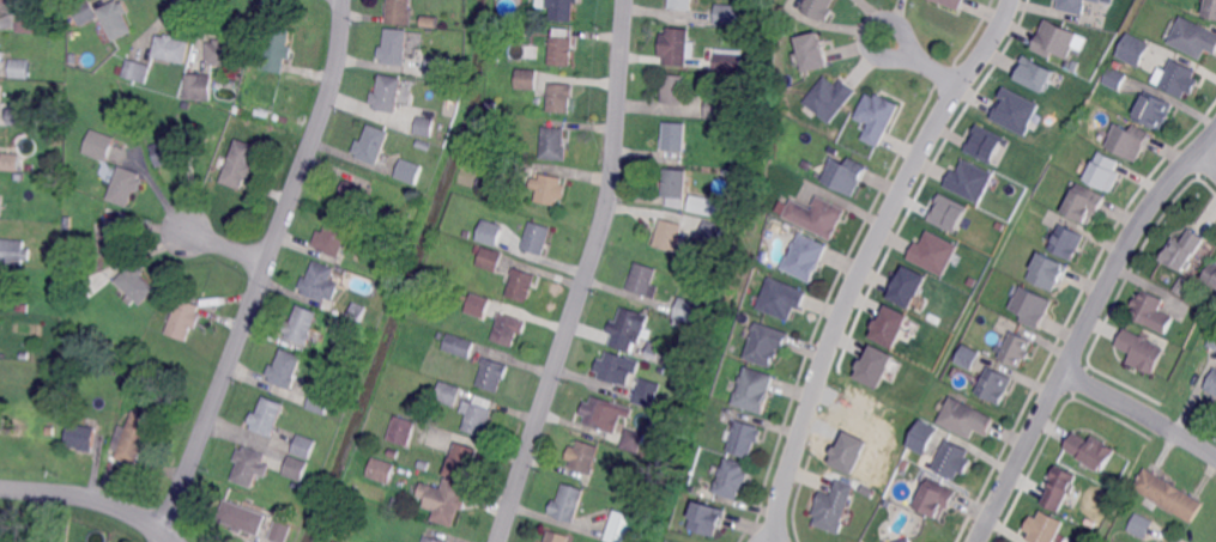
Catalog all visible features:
building: (1096, 0)
building: (1107, 0)
building: (949, 2)
building: (682, 5)
building: (1070, 5)
building: (399, 7)
building: (815, 8)
building: (1209, 8)
building: (562, 10)
building: (86, 13)
building: (726, 13)
building: (116, 19)
building: (432, 22)
building: (26, 23)
road: (896, 30)
building: (413, 36)
building: (1192, 38)
building: (1053, 39)
building: (677, 44)
building: (395, 47)
building: (171, 48)
building: (277, 49)
building: (1131, 49)
building: (811, 50)
building: (224, 51)
building: (561, 53)
building: (730, 61)
building: (438, 67)
building: (20, 68)
building: (133, 72)
building: (1034, 73)
building: (1113, 79)
building: (1178, 79)
building: (526, 81)
building: (407, 86)
building: (198, 87)
building: (674, 89)
building: (386, 95)
building: (448, 95)
building: (828, 96)
building: (562, 97)
building: (490, 104)
building: (716, 108)
building: (1014, 110)
building: (1153, 110)
building: (20, 115)
building: (875, 117)
building: (425, 126)
building: (736, 134)
building: (674, 136)
building: (1126, 141)
building: (985, 142)
building: (555, 144)
building: (99, 145)
building: (373, 145)
building: (424, 145)
building: (169, 152)
road: (1205, 159)
building: (11, 162)
building: (238, 164)
building: (1101, 171)
building: (409, 172)
building: (842, 173)
building: (969, 179)
building: (676, 183)
building: (482, 184)
building: (125, 185)
building: (547, 189)
building: (351, 197)
building: (703, 203)
building: (1082, 203)
building: (731, 212)
building: (946, 212)
building: (815, 217)
building: (492, 232)
building: (710, 232)
building: (466, 233)
building: (670, 235)
building: (334, 236)
building: (536, 238)
building: (114, 239)
building: (1065, 242)
road: (226, 246)
building: (1181, 250)
building: (13, 251)
building: (932, 251)
building: (491, 258)
building: (801, 258)
road: (865, 258)
road: (261, 273)
building: (1046, 273)
building: (1210, 275)
road: (586, 276)
building: (319, 280)
building: (642, 280)
building: (137, 284)
building: (522, 284)
building: (907, 286)
building: (1181, 286)
building: (781, 297)
building: (477, 304)
building: (1029, 307)
building: (20, 309)
building: (686, 311)
building: (1150, 311)
building: (356, 313)
building: (184, 318)
building: (302, 324)
building: (889, 324)
building: (629, 327)
building: (508, 328)
road: (1083, 328)
building: (1212, 339)
building: (763, 345)
building: (459, 346)
building: (1014, 351)
building: (1139, 351)
building: (654, 352)
building: (964, 357)
building: (875, 365)
building: (613, 367)
building: (286, 369)
building: (321, 369)
building: (494, 373)
building: (992, 385)
building: (1212, 385)
building: (133, 386)
building: (751, 390)
building: (449, 392)
building: (428, 395)
building: (648, 397)
building: (46, 402)
building: (320, 403)
building: (597, 414)
building: (268, 416)
building: (476, 419)
building: (962, 419)
road: (1138, 419)
building: (403, 430)
building: (81, 437)
building: (134, 437)
building: (919, 438)
building: (742, 439)
building: (633, 440)
building: (303, 447)
building: (1090, 451)
building: (585, 457)
building: (950, 459)
building: (464, 462)
building: (424, 464)
building: (903, 464)
building: (249, 467)
building: (296, 469)
building: (380, 471)
building: (728, 479)
building: (1100, 481)
building: (297, 485)
building: (1057, 488)
building: (889, 494)
building: (1169, 494)
road: (92, 498)
building: (932, 499)
building: (447, 500)
building: (569, 503)
building: (394, 504)
building: (830, 506)
building: (243, 517)
building: (702, 518)
building: (1089, 523)
building: (1141, 526)
building: (621, 528)
building: (1042, 528)
building: (282, 531)
building: (557, 536)
building: (432, 540)
building: (902, 540)

